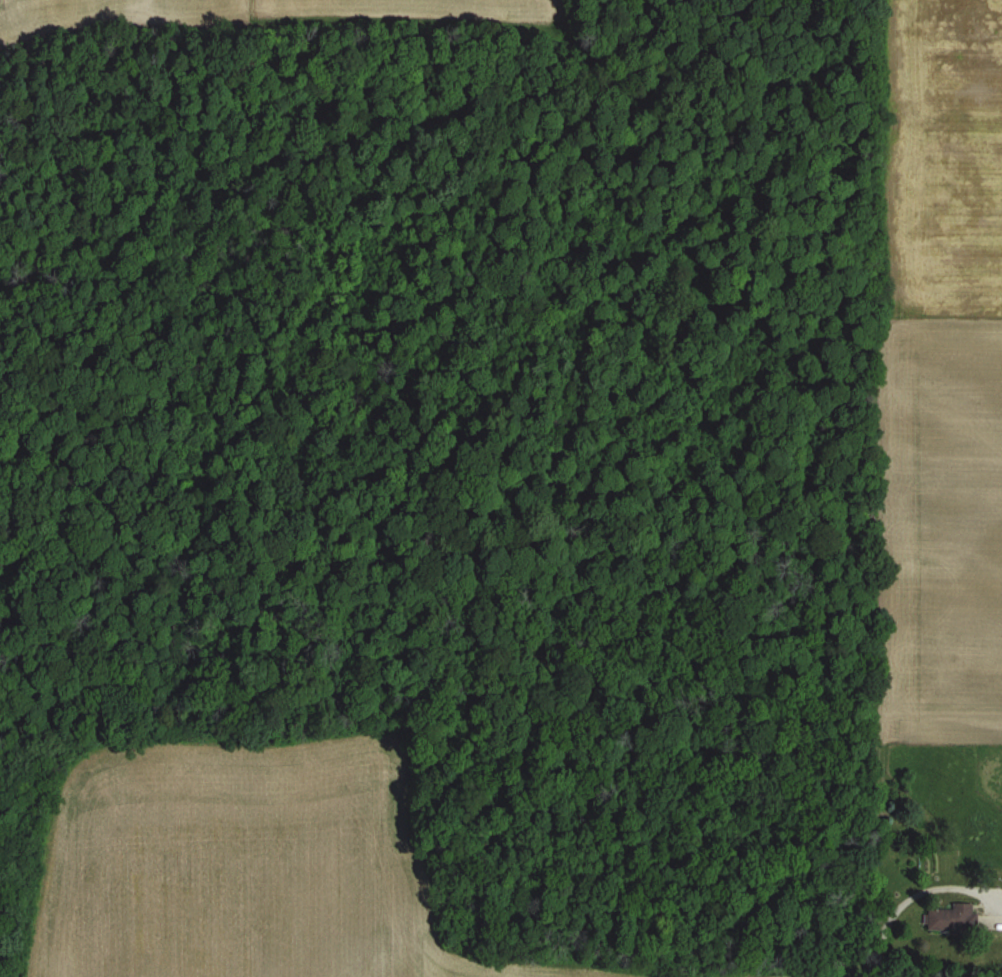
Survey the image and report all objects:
road: (906, 896)
building: (951, 918)

